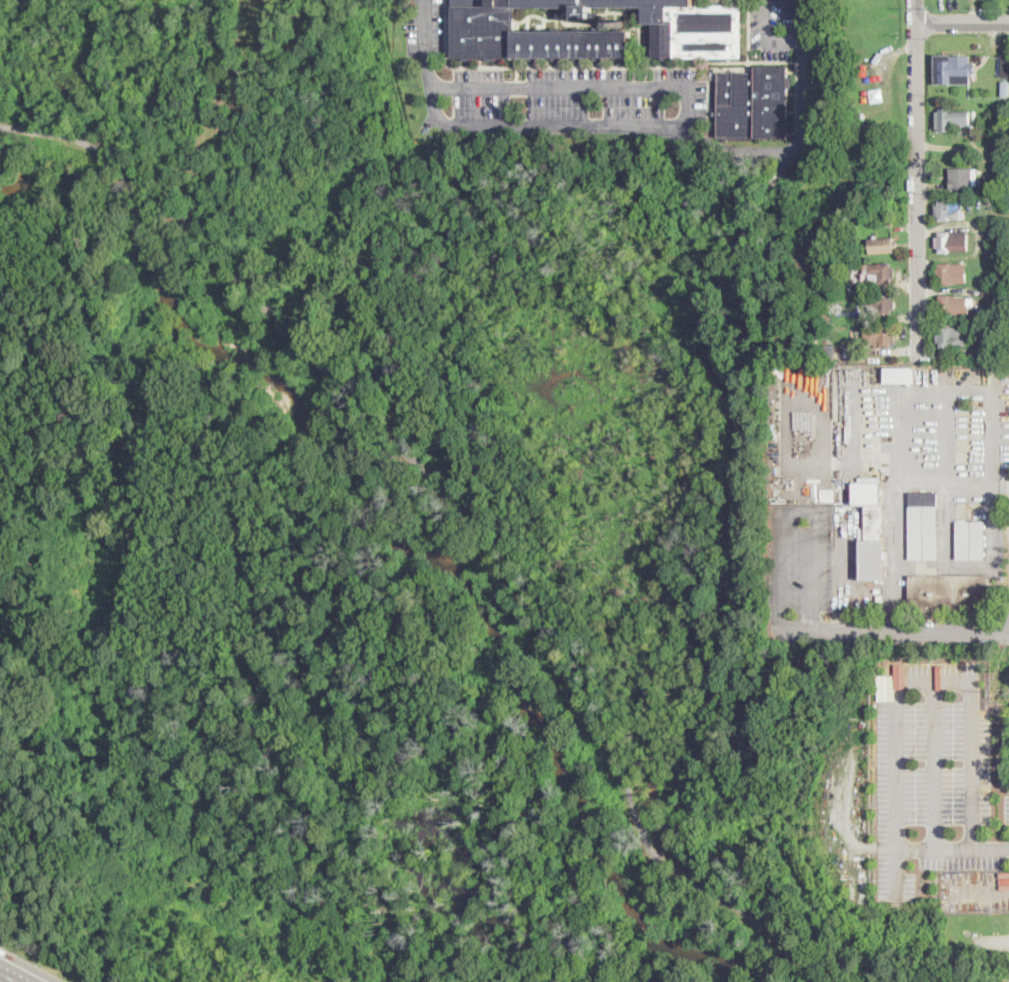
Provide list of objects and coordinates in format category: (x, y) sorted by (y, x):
road: (962, 22)
parking lot: (427, 28)
building: (698, 28)
parking lot: (772, 28)
road: (766, 37)
building: (1005, 67)
building: (953, 69)
road: (590, 85)
building: (1005, 93)
parking lot: (580, 100)
building: (754, 104)
road: (232, 105)
building: (951, 119)
road: (635, 127)
building: (963, 178)
road: (916, 179)
building: (949, 210)
building: (952, 241)
building: (882, 245)
building: (849, 271)
building: (880, 272)
building: (951, 273)
building: (880, 304)
building: (952, 305)
building: (1000, 331)
building: (880, 336)
building: (950, 337)
building: (1003, 344)
building: (847, 350)
building: (854, 352)
building: (938, 353)
building: (899, 375)
road: (906, 392)
road: (947, 434)
road: (1000, 484)
road: (459, 505)
road: (803, 510)
building: (924, 526)
building: (871, 528)
building: (970, 540)
road: (896, 553)
building: (949, 594)
road: (891, 632)
road: (896, 750)
road: (934, 764)
road: (972, 765)
parking lot: (932, 775)
road: (952, 850)
road: (5, 979)

